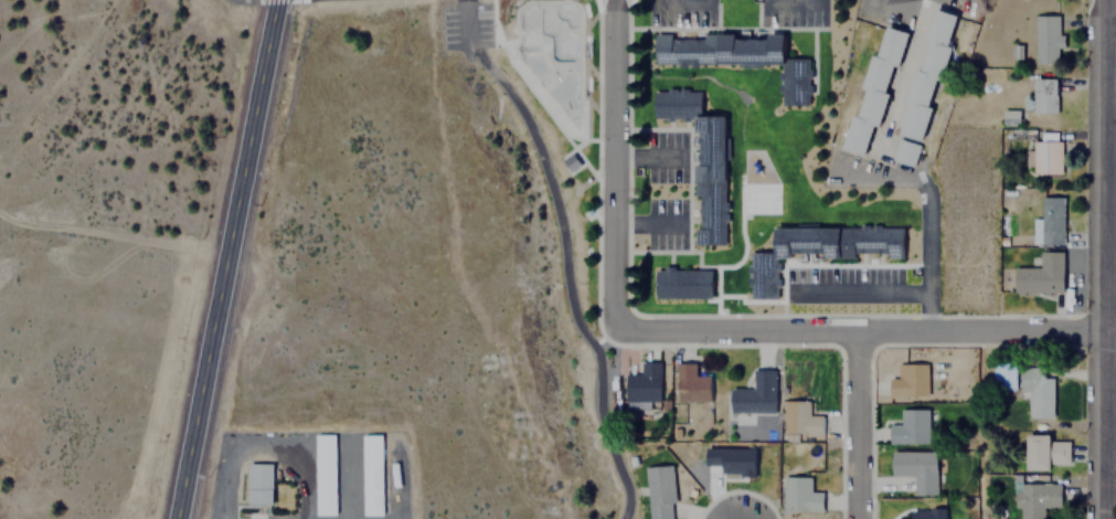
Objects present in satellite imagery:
road: (464, 22)
parking lot: (464, 24)
building: (1046, 38)
park: (551, 51)
building: (737, 57)
building: (923, 86)
building: (873, 89)
building: (1042, 95)
park: (524, 146)
building: (1045, 153)
building: (700, 160)
road: (615, 163)
building: (1051, 219)
road: (563, 250)
building: (818, 250)
road: (1099, 258)
road: (225, 259)
building: (1040, 274)
building: (682, 284)
road: (865, 329)
building: (1002, 375)
building: (910, 381)
building: (642, 383)
building: (690, 383)
building: (1037, 392)
building: (754, 393)
building: (799, 417)
road: (854, 424)
building: (910, 426)
building: (1044, 452)
building: (915, 468)
building: (329, 472)
building: (376, 473)
building: (264, 481)
building: (659, 491)
building: (799, 495)
building: (1034, 499)
building: (928, 513)

